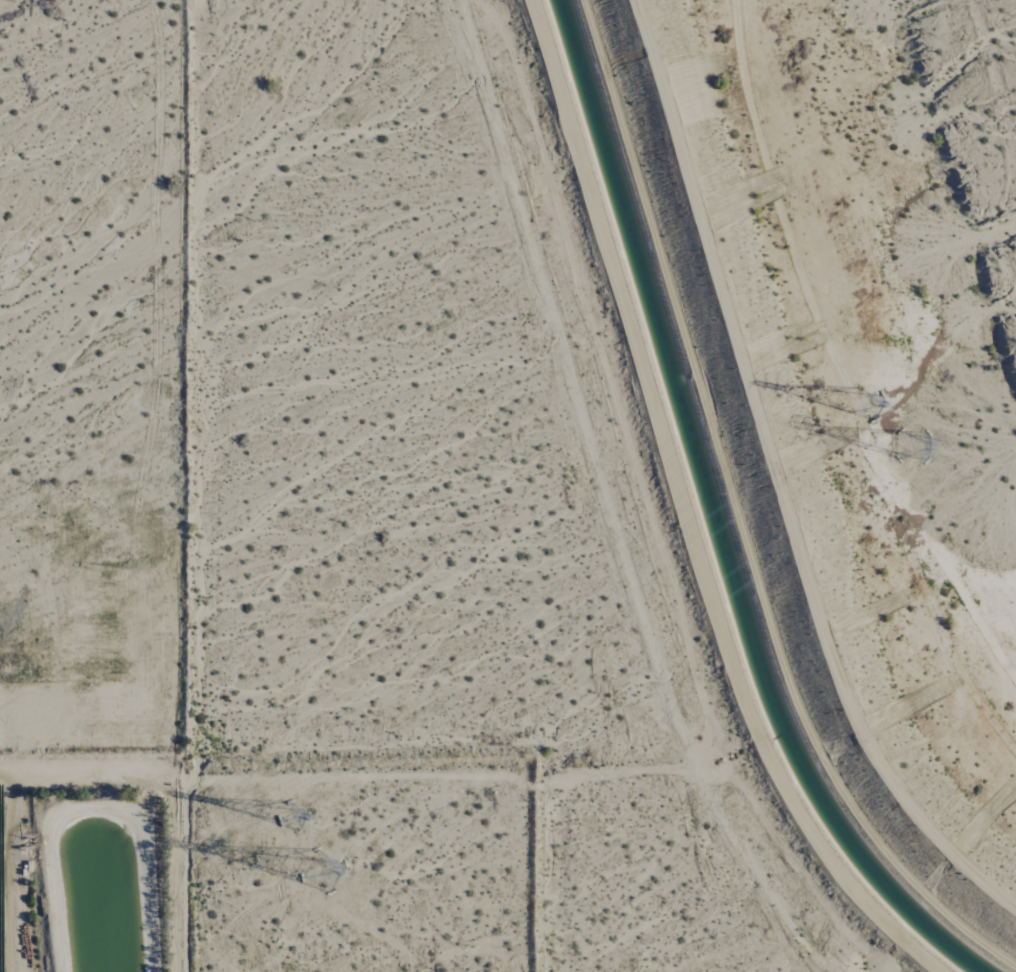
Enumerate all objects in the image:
power tower: (865, 408)
power tower: (914, 449)
power tower: (292, 808)
power tower: (323, 872)

